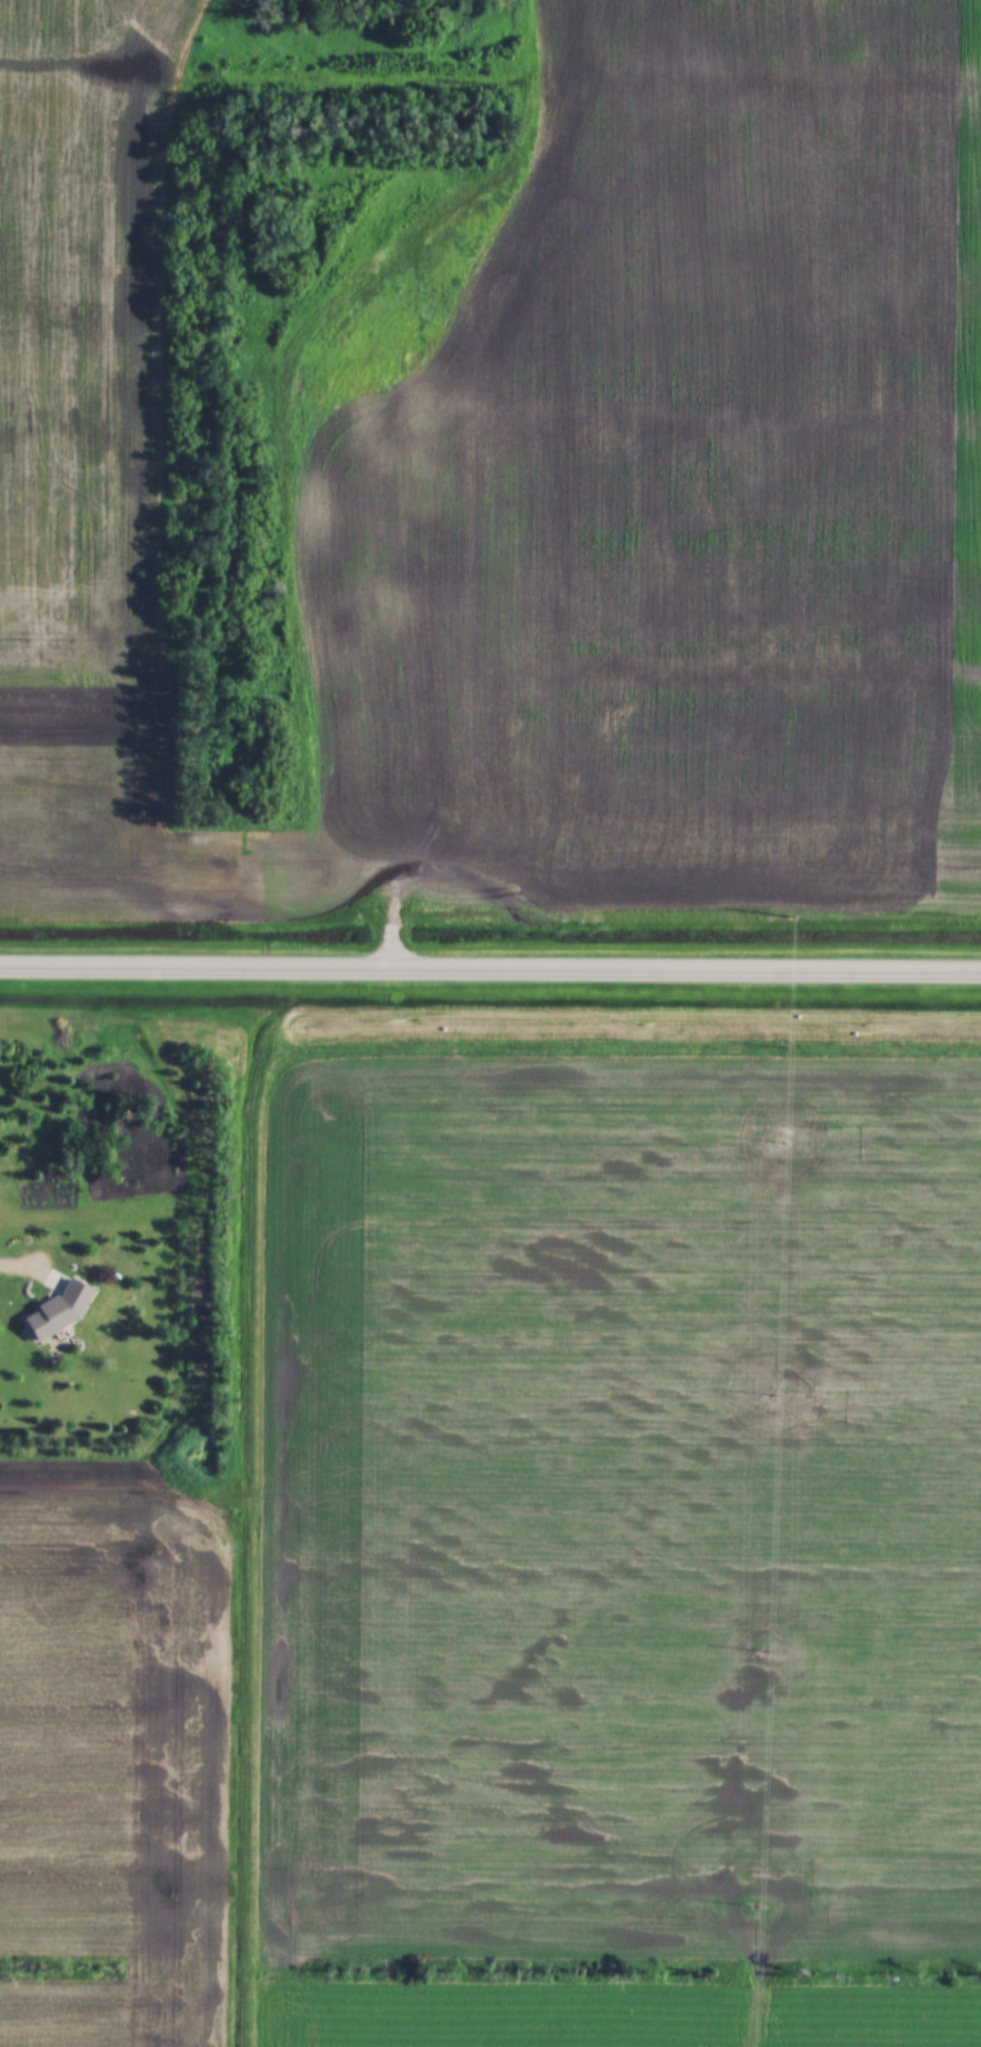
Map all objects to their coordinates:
road: (490, 968)
building: (62, 1311)
crop: (609, 1550)
crop: (117, 1765)

